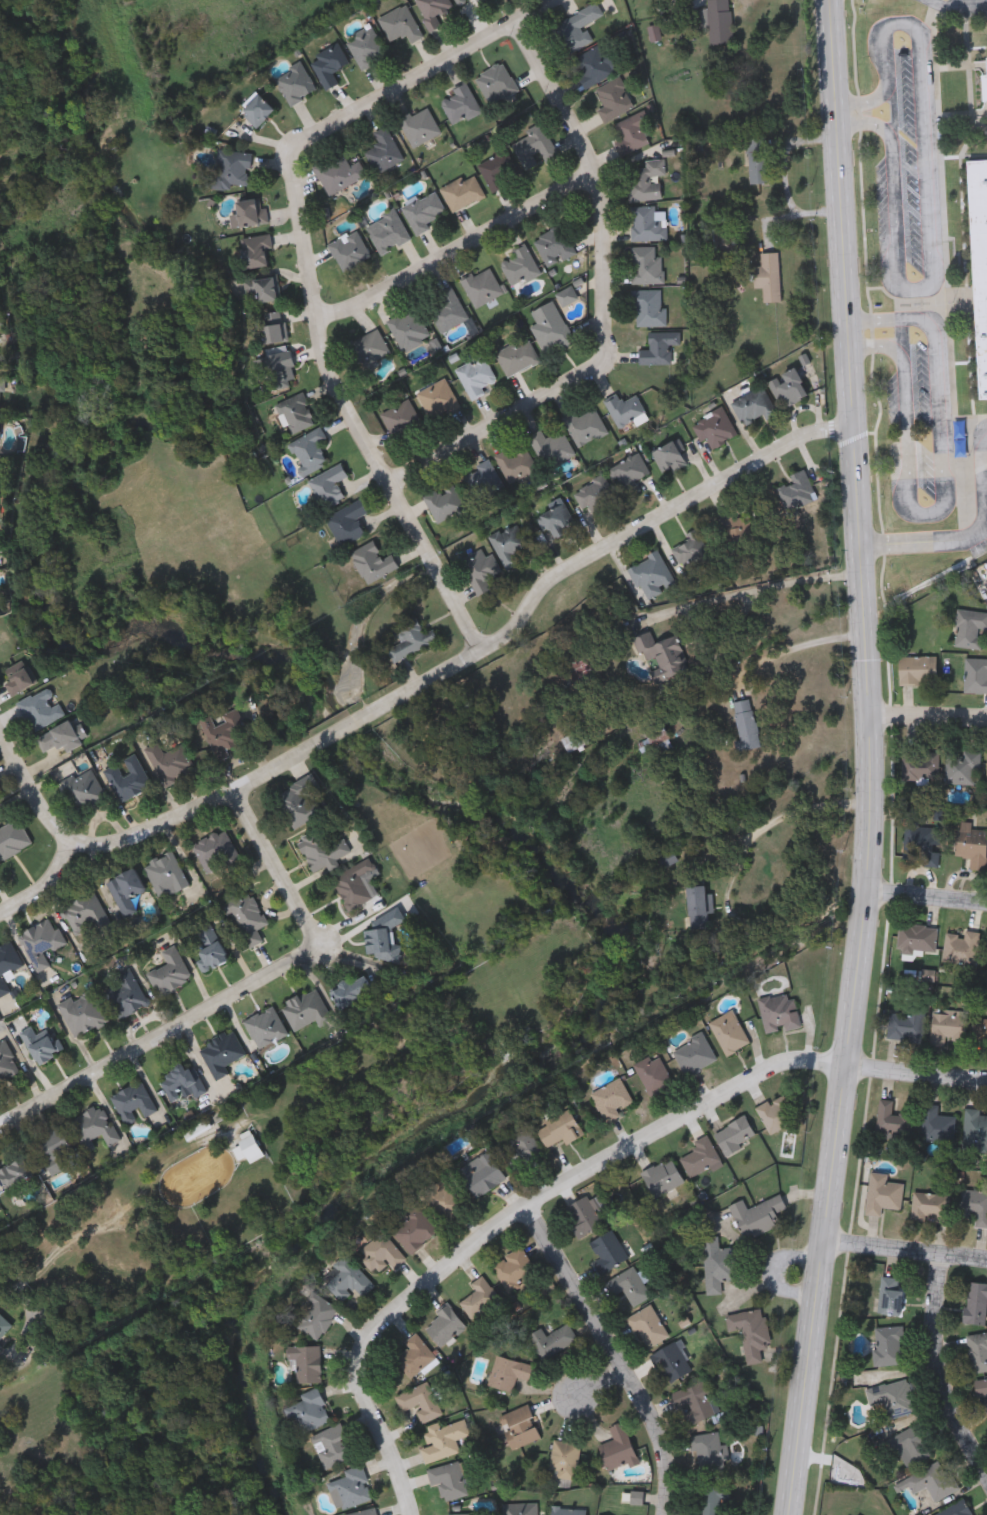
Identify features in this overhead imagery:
building: (456, 1)
building: (478, 1)
road: (961, 2)
building: (430, 11)
building: (721, 21)
building: (398, 24)
building: (574, 29)
building: (365, 48)
building: (326, 65)
building: (592, 66)
building: (986, 70)
road: (419, 73)
building: (494, 83)
building: (293, 84)
building: (611, 100)
building: (458, 105)
building: (253, 110)
building: (417, 127)
building: (630, 133)
building: (532, 146)
building: (381, 151)
building: (759, 159)
building: (230, 167)
building: (497, 169)
building: (336, 173)
road: (782, 177)
building: (648, 180)
road: (598, 181)
building: (460, 192)
road: (932, 203)
building: (420, 211)
building: (248, 212)
building: (648, 223)
building: (385, 231)
building: (553, 245)
building: (347, 250)
road: (456, 251)
building: (251, 252)
building: (980, 259)
building: (647, 264)
building: (518, 266)
building: (770, 275)
building: (481, 286)
building: (261, 287)
building: (565, 295)
building: (445, 308)
building: (650, 308)
building: (272, 326)
building: (407, 328)
building: (549, 328)
road: (903, 336)
building: (367, 348)
building: (661, 348)
building: (0, 355)
building: (516, 357)
building: (277, 364)
building: (477, 374)
building: (787, 388)
building: (2, 391)
building: (437, 400)
building: (753, 406)
building: (624, 409)
road: (350, 410)
building: (295, 412)
building: (399, 418)
road: (497, 422)
building: (582, 426)
building: (713, 428)
building: (0, 432)
building: (550, 447)
building: (307, 450)
building: (668, 456)
building: (516, 465)
building: (628, 475)
building: (480, 482)
road: (986, 484)
building: (327, 486)
building: (795, 492)
building: (593, 496)
road: (944, 496)
building: (443, 503)
building: (555, 520)
building: (345, 522)
building: (734, 533)
road: (615, 540)
building: (506, 543)
road: (926, 543)
building: (692, 551)
building: (372, 562)
building: (480, 569)
building: (650, 575)
road: (751, 593)
building: (0, 617)
building: (970, 628)
building: (409, 639)
road: (801, 640)
building: (663, 656)
building: (918, 670)
building: (976, 675)
building: (18, 680)
building: (41, 709)
road: (930, 719)
road: (354, 723)
building: (748, 726)
building: (223, 734)
building: (59, 738)
building: (661, 739)
building: (575, 742)
road: (873, 759)
building: (171, 762)
building: (918, 762)
building: (962, 766)
building: (129, 778)
road: (30, 786)
building: (86, 789)
building: (300, 806)
road: (773, 819)
road: (142, 832)
building: (13, 838)
building: (972, 844)
building: (928, 846)
building: (217, 850)
building: (323, 851)
building: (669, 860)
building: (167, 874)
building: (355, 885)
building: (127, 891)
road: (927, 895)
building: (701, 908)
building: (247, 917)
building: (89, 918)
building: (383, 936)
building: (917, 938)
building: (43, 941)
building: (963, 945)
building: (211, 946)
building: (8, 965)
building: (172, 972)
building: (352, 991)
building: (130, 994)
road: (235, 999)
building: (307, 1009)
building: (780, 1011)
building: (84, 1012)
building: (907, 1023)
building: (948, 1025)
building: (267, 1027)
building: (980, 1029)
building: (730, 1032)
building: (43, 1044)
building: (222, 1052)
building: (695, 1054)
building: (8, 1064)
road: (916, 1074)
building: (654, 1075)
building: (183, 1081)
building: (610, 1099)
building: (135, 1103)
building: (784, 1107)
building: (892, 1118)
building: (937, 1124)
building: (94, 1127)
building: (560, 1128)
building: (975, 1129)
building: (735, 1134)
building: (522, 1149)
building: (59, 1151)
building: (250, 1151)
building: (701, 1155)
building: (17, 1173)
building: (482, 1173)
building: (663, 1176)
building: (883, 1193)
building: (444, 1200)
building: (975, 1204)
building: (930, 1205)
building: (586, 1212)
building: (758, 1215)
road: (513, 1223)
building: (415, 1229)
building: (381, 1251)
building: (609, 1251)
road: (904, 1256)
building: (718, 1263)
building: (515, 1267)
building: (348, 1277)
building: (629, 1285)
building: (890, 1294)
building: (480, 1297)
building: (976, 1302)
road: (31, 1310)
building: (315, 1316)
building: (445, 1324)
building: (648, 1325)
building: (4, 1327)
building: (751, 1330)
building: (552, 1339)
building: (889, 1344)
building: (977, 1351)
building: (415, 1354)
road: (611, 1359)
building: (306, 1361)
building: (672, 1361)
building: (509, 1372)
road: (944, 1374)
road: (598, 1385)
building: (981, 1386)
building: (894, 1397)
building: (420, 1401)
building: (696, 1402)
building: (309, 1410)
building: (520, 1426)
building: (444, 1439)
building: (331, 1445)
building: (911, 1445)
building: (618, 1448)
building: (708, 1450)
building: (565, 1459)
building: (449, 1479)
building: (931, 1481)
building: (350, 1487)
building: (712, 1499)
building: (520, 1508)
building: (957, 1509)
building: (568, 1510)
building: (365, 1511)
building: (462, 1514)
building: (850, 1514)

